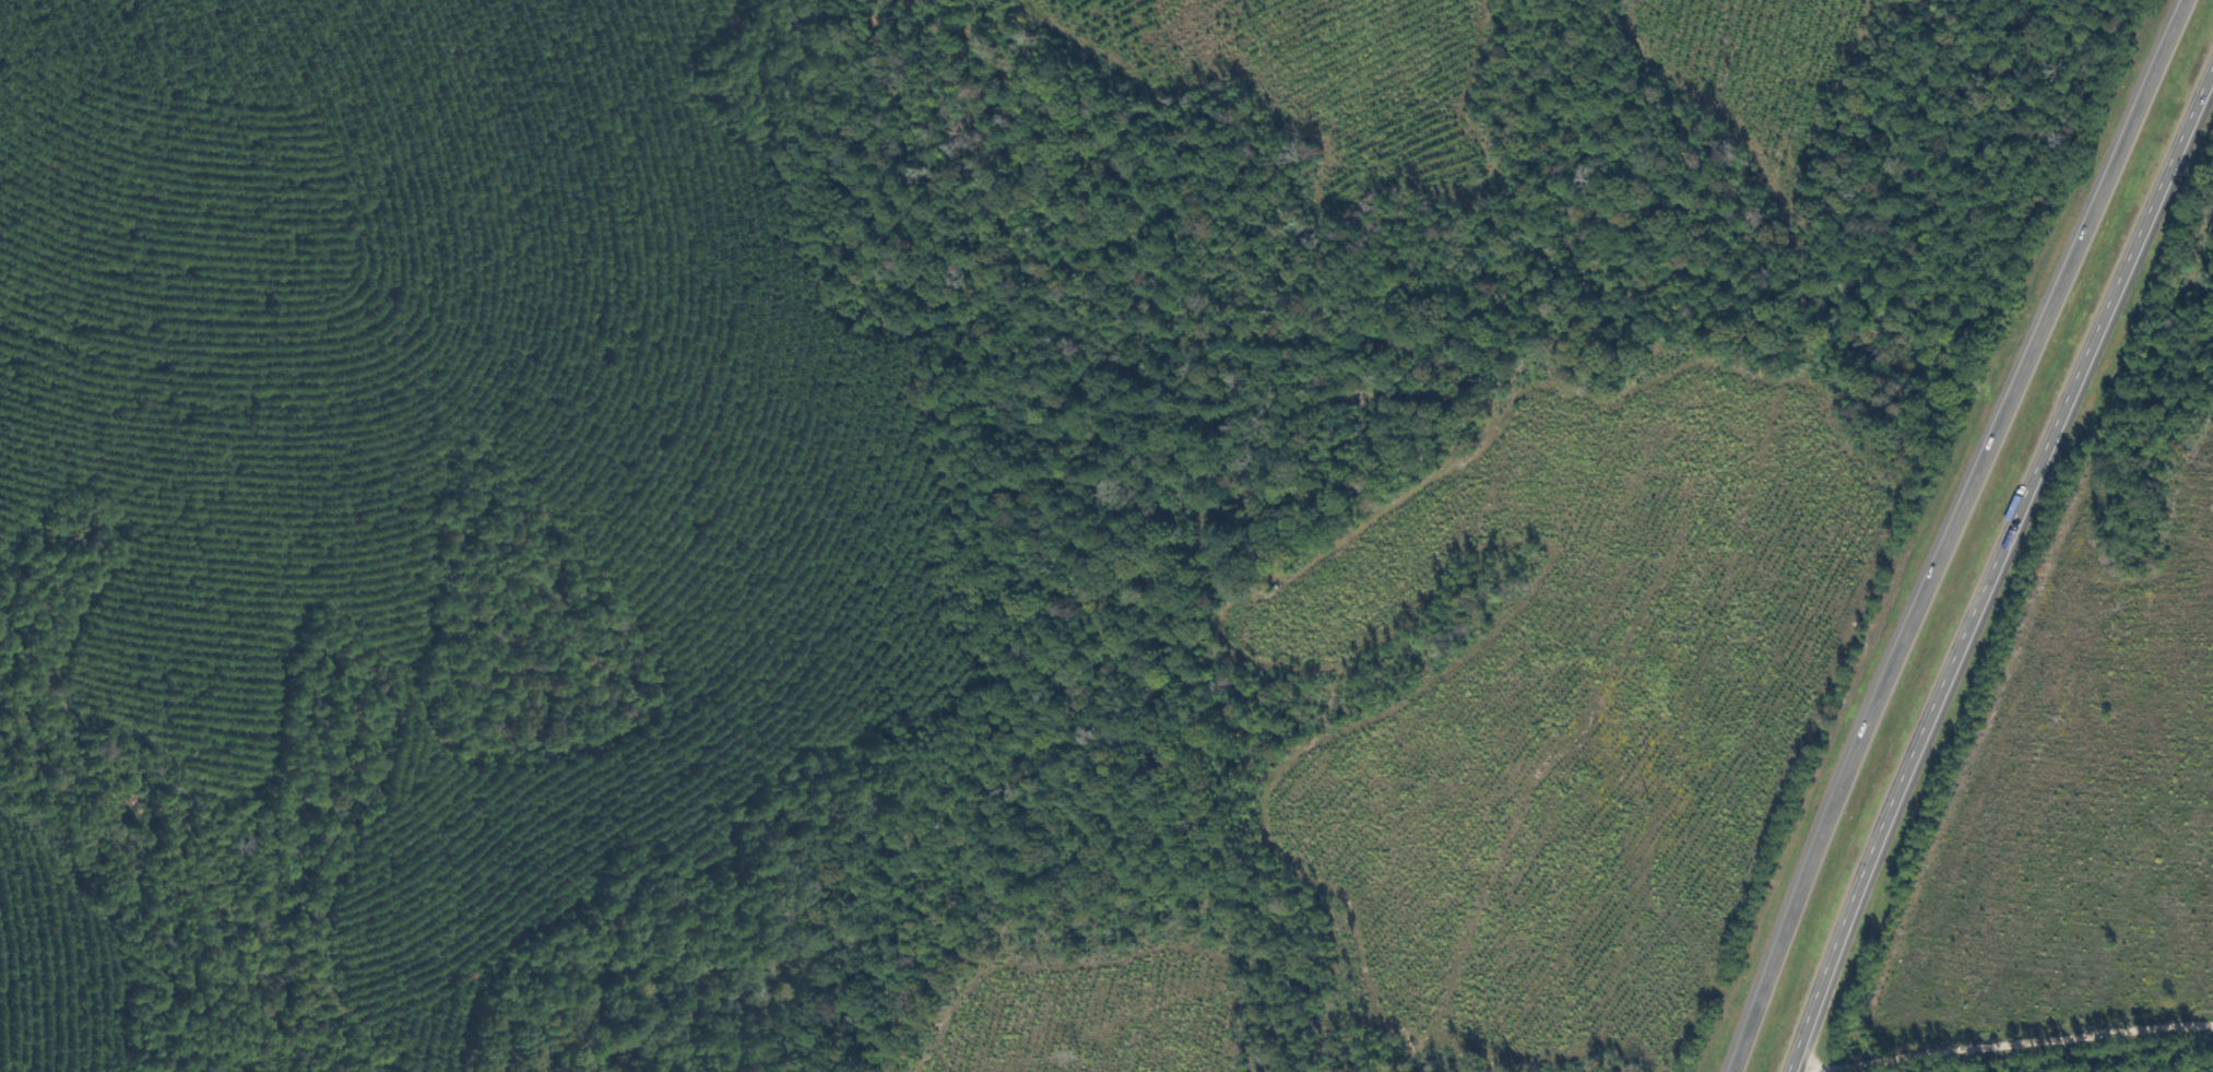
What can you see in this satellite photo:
road: (1958, 533)
road: (1992, 567)
road: (2003, 1047)

